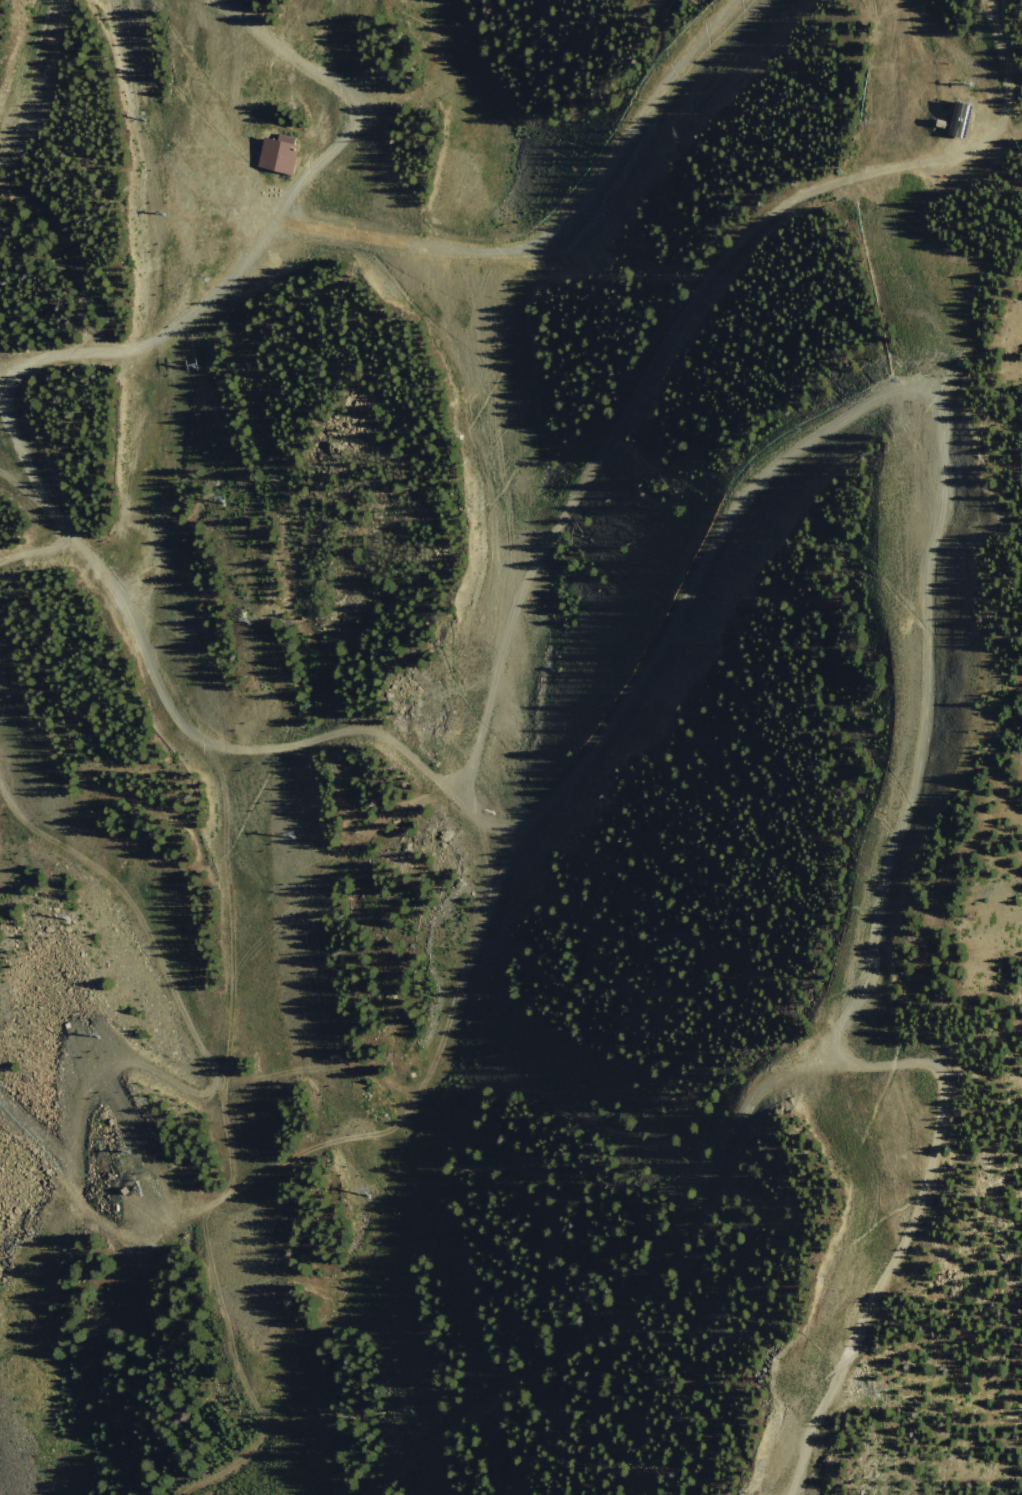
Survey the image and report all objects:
aerialway pylon: (137, 70)
aerialway pylon: (976, 81)
aerialway pylon: (147, 118)
building: (967, 118)
road: (1014, 142)
road: (1002, 148)
building: (278, 158)
aerialway pylon: (166, 211)
road: (377, 229)
road: (145, 341)
road: (663, 352)
aerialway pylon: (198, 364)
aerialway pylon: (225, 499)
road: (693, 588)
aerialway pylon: (250, 620)
road: (498, 668)
road: (178, 714)
ski resort: (511, 747)
aerialway pylon: (295, 836)
aerialway pylon: (58, 911)
road: (864, 991)
aerialway pylon: (90, 1033)
aerialway pylon: (341, 1058)
road: (391, 1090)
aerialway pylon: (122, 1152)
road: (548, 1162)
road: (695, 1191)
aerialway pylon: (369, 1194)
road: (483, 1235)
road: (613, 1300)
road: (242, 1380)
aerialway pylon: (413, 1411)

